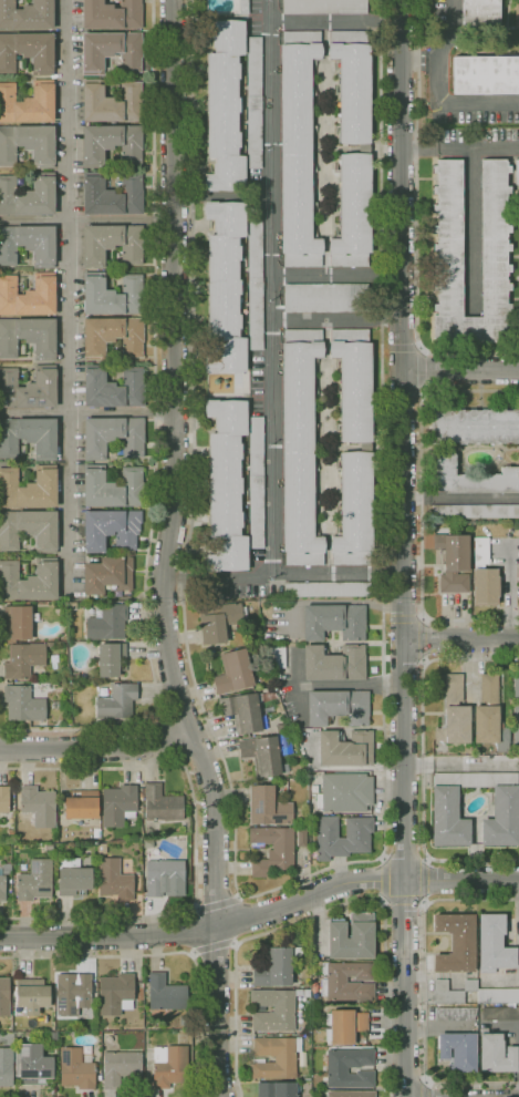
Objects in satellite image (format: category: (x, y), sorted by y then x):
building: (243, 7)
building: (323, 7)
building: (479, 13)
building: (27, 14)
building: (111, 14)
building: (517, 16)
road: (335, 20)
road: (450, 30)
building: (111, 51)
building: (27, 52)
road: (430, 59)
road: (411, 60)
building: (485, 75)
building: (111, 102)
building: (28, 103)
building: (253, 103)
road: (457, 103)
building: (225, 105)
building: (112, 143)
building: (28, 144)
road: (418, 146)
road: (478, 146)
building: (298, 147)
building: (364, 148)
building: (517, 172)
building: (112, 194)
building: (28, 195)
road: (87, 218)
road: (416, 223)
building: (28, 244)
building: (112, 244)
building: (449, 258)
road: (335, 275)
building: (256, 284)
building: (225, 288)
building: (27, 295)
building: (113, 295)
road: (66, 296)
building: (328, 298)
road: (336, 319)
building: (113, 336)
building: (28, 337)
road: (402, 348)
road: (273, 349)
road: (459, 370)
road: (425, 371)
building: (354, 382)
building: (28, 388)
building: (113, 388)
road: (87, 410)
building: (475, 427)
building: (29, 437)
building: (113, 437)
road: (156, 441)
building: (299, 447)
building: (366, 447)
building: (471, 478)
building: (257, 482)
building: (226, 485)
building: (113, 488)
building: (29, 489)
road: (460, 498)
road: (422, 504)
building: (354, 511)
building: (475, 511)
building: (28, 530)
building: (111, 530)
road: (402, 548)
road: (170, 552)
building: (481, 553)
building: (453, 560)
building: (107, 575)
road: (221, 577)
building: (29, 581)
building: (485, 586)
building: (325, 589)
road: (404, 618)
building: (219, 621)
building: (334, 621)
building: (18, 622)
building: (107, 622)
road: (460, 638)
road: (426, 639)
building: (50, 644)
building: (277, 656)
building: (112, 659)
building: (23, 660)
building: (334, 663)
building: (232, 671)
building: (75, 677)
building: (72, 687)
building: (454, 689)
building: (489, 689)
building: (117, 701)
building: (23, 705)
building: (516, 706)
building: (338, 707)
building: (243, 712)
building: (454, 726)
building: (281, 728)
building: (489, 728)
road: (167, 738)
road: (95, 742)
building: (345, 748)
building: (467, 749)
building: (261, 755)
road: (423, 759)
building: (475, 779)
building: (345, 792)
building: (15, 797)
building: (4, 799)
building: (162, 803)
building: (81, 804)
building: (118, 804)
building: (39, 806)
building: (268, 807)
building: (448, 818)
building: (502, 818)
building: (301, 838)
road: (196, 839)
building: (147, 843)
building: (342, 844)
building: (49, 848)
building: (101, 849)
building: (272, 850)
building: (73, 878)
building: (164, 878)
building: (3, 880)
building: (114, 880)
road: (382, 880)
building: (35, 881)
road: (427, 881)
road: (289, 883)
road: (239, 895)
road: (404, 903)
road: (218, 904)
road: (196, 908)
road: (261, 913)
building: (351, 936)
building: (456, 942)
road: (235, 943)
road: (237, 944)
building: (494, 944)
road: (215, 946)
road: (167, 952)
road: (195, 953)
building: (276, 966)
building: (440, 975)
building: (333, 981)
building: (470, 985)
road: (425, 991)
building: (72, 993)
building: (166, 993)
building: (299, 993)
building: (445, 993)
building: (115, 994)
building: (32, 995)
building: (498, 995)
building: (4, 997)
road: (385, 999)
building: (273, 1009)
building: (455, 1013)
building: (500, 1013)
building: (344, 1025)
road: (506, 1025)
building: (70, 1033)
building: (52, 1037)
building: (458, 1052)
building: (495, 1053)
building: (274, 1057)
building: (33, 1065)
building: (169, 1066)
building: (6, 1067)
building: (121, 1067)
building: (349, 1067)
building: (75, 1069)
road: (426, 1081)
building: (277, 1089)
road: (425, 1089)
building: (350, 1094)

